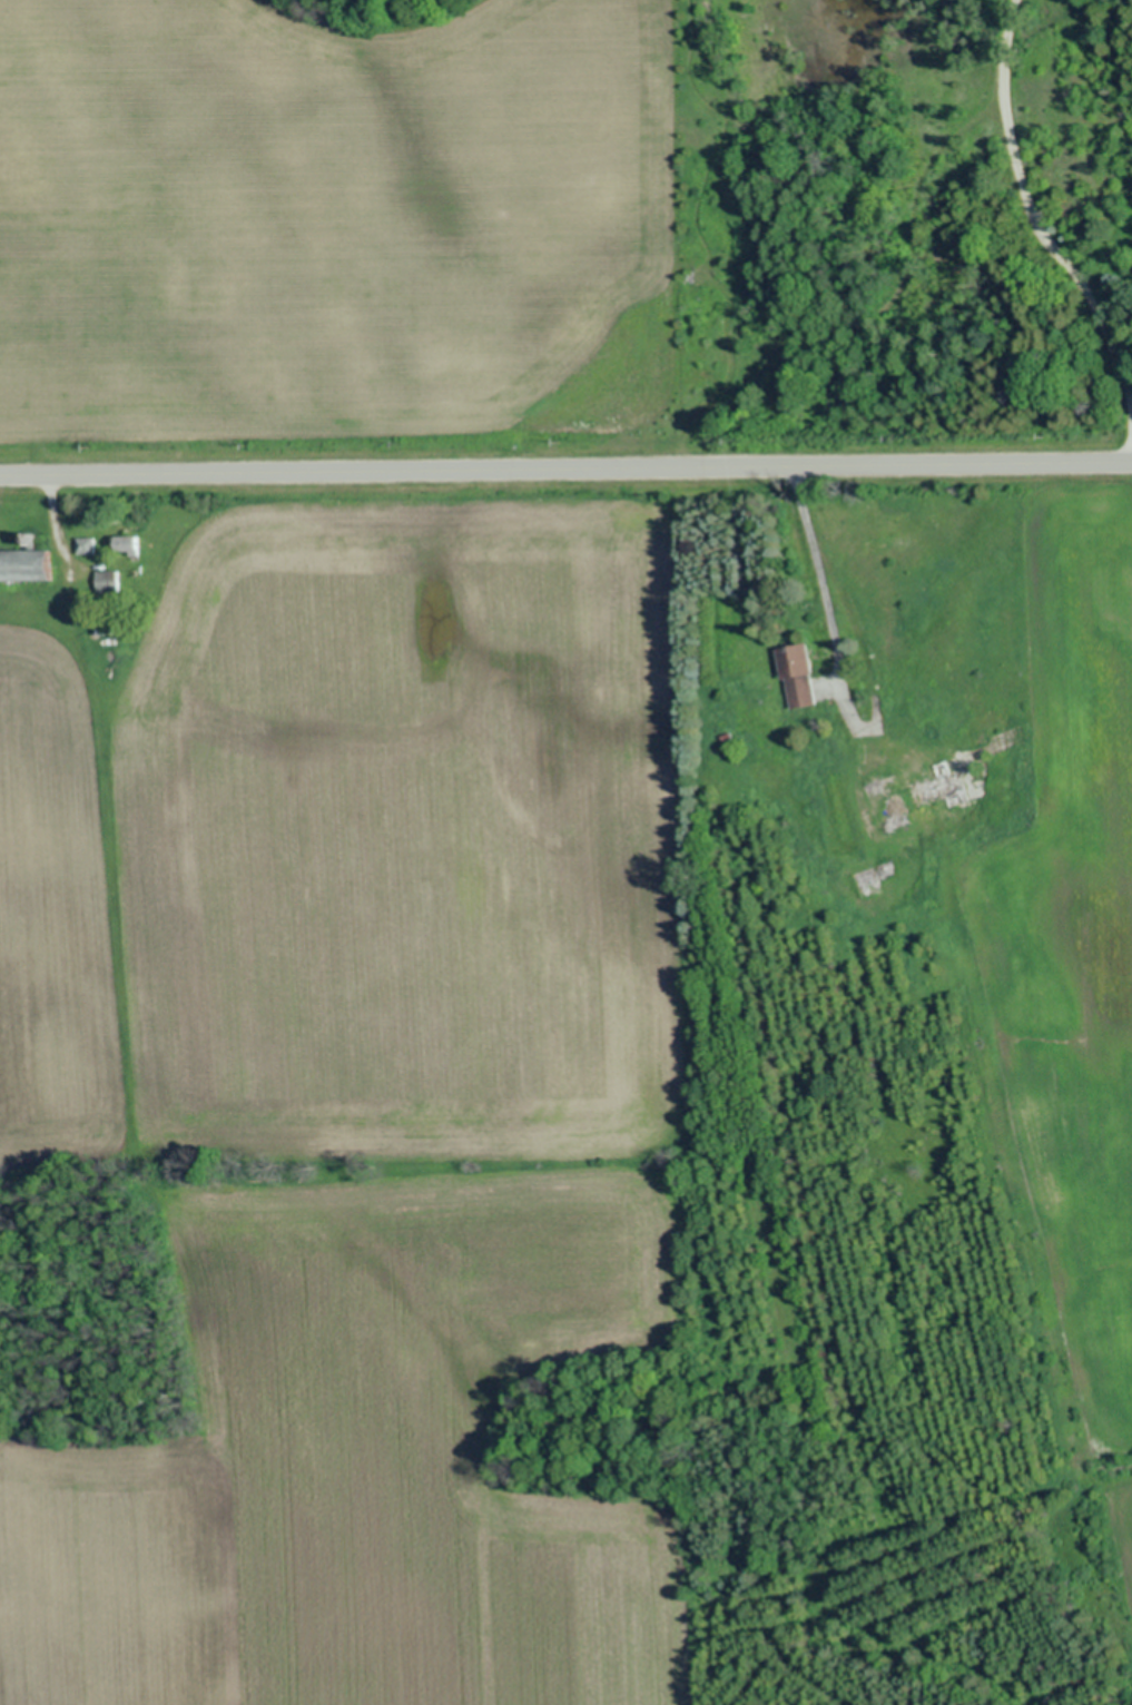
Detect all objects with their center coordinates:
road: (565, 469)
building: (86, 545)
building: (130, 545)
building: (27, 566)
building: (108, 581)
building: (800, 678)
quarry: (932, 1224)

